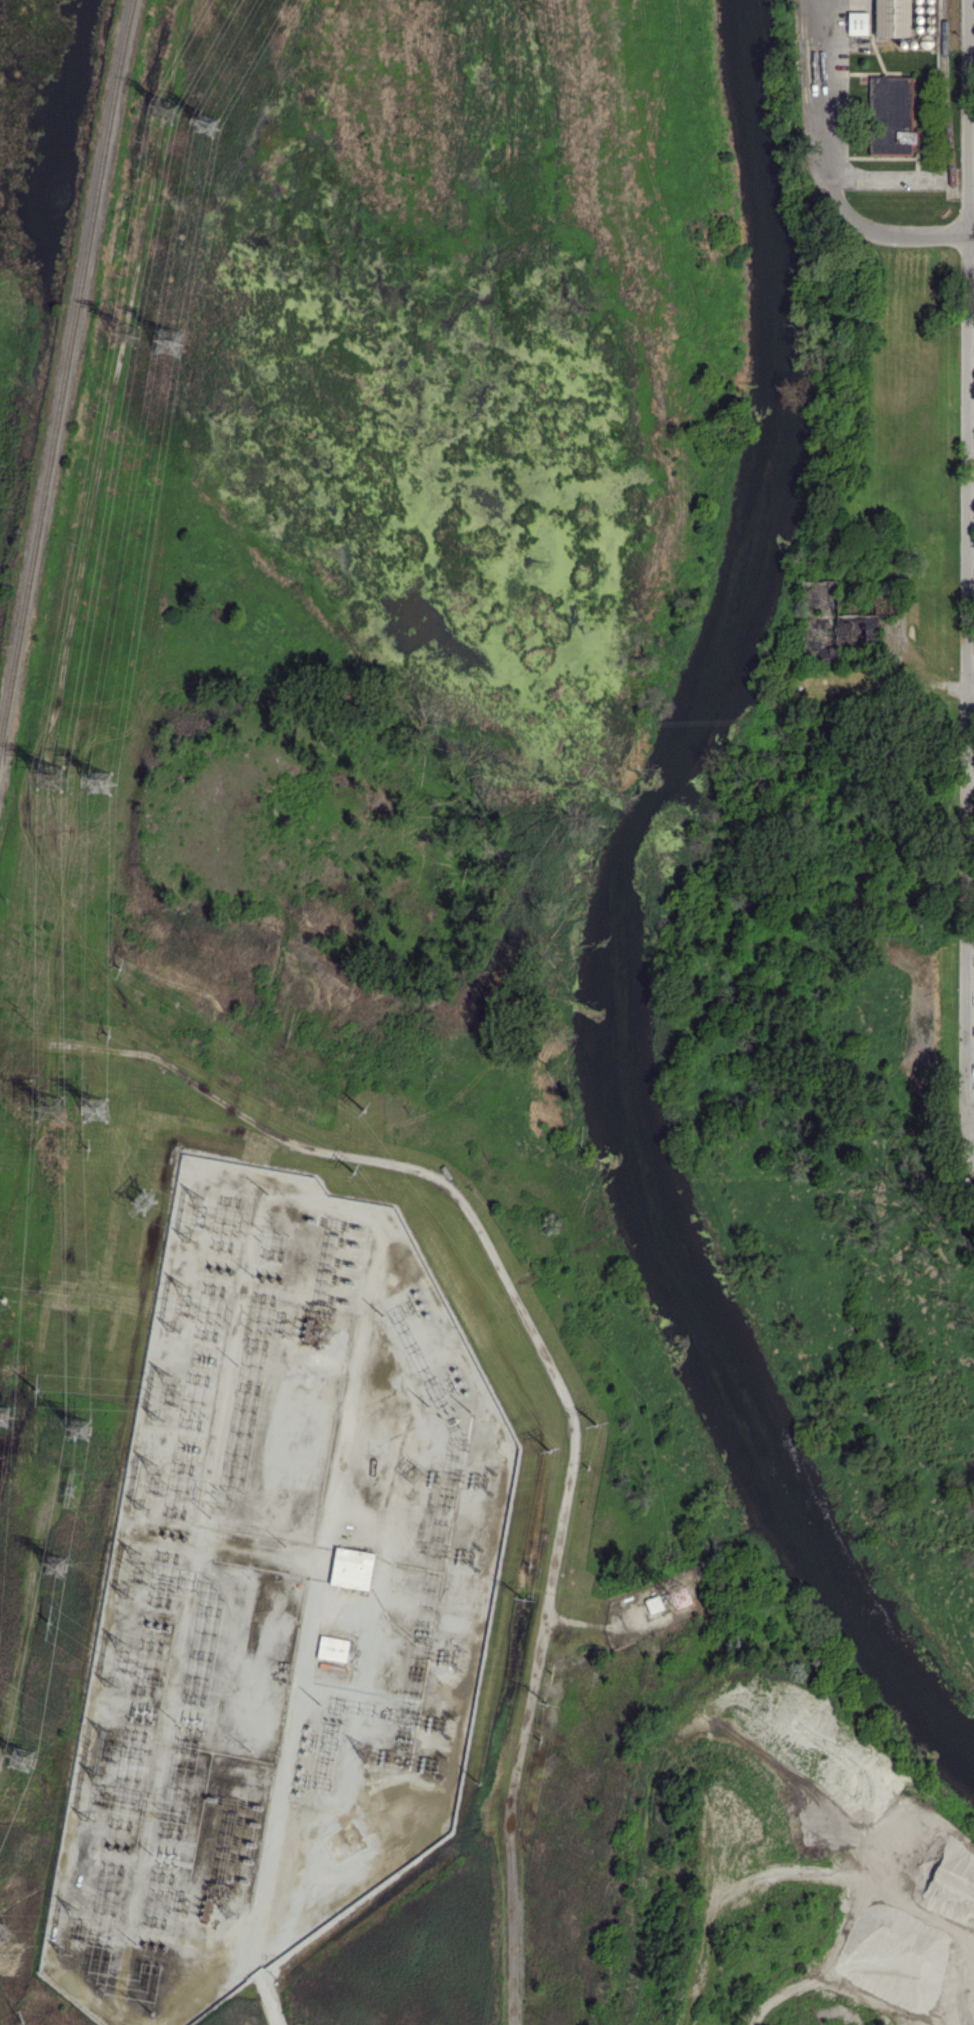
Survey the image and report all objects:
building: (891, 18)
building: (857, 22)
railway: (945, 96)
power tower: (179, 109)
building: (890, 116)
power tower: (210, 124)
road: (827, 174)
road: (885, 176)
road: (972, 234)
power tower: (137, 337)
power tower: (169, 341)
railway: (65, 372)
road: (970, 571)
building: (856, 629)
road: (972, 689)
power tower: (50, 780)
power tower: (103, 788)
river: (619, 914)
power tower: (36, 939)
power tower: (123, 970)
power tower: (33, 1022)
power tower: (111, 1037)
power tower: (52, 1108)
power tower: (366, 1113)
power tower: (95, 1115)
road: (972, 1141)
power tower: (87, 1147)
power tower: (356, 1174)
power tower: (141, 1205)
power tower: (5, 1318)
power tower: (35, 1389)
power tower: (598, 1426)
power tower: (81, 1433)
power tower: (549, 1452)
power tower: (588, 1466)
power tower: (66, 1492)
power tower: (58, 1563)
power tower: (526, 1564)
building: (351, 1568)
power tower: (524, 1598)
power substation: (279, 1599)
building: (654, 1604)
power tower: (45, 1617)
building: (332, 1649)
power tower: (548, 1676)
power tower: (547, 1705)
power tower: (537, 1739)
power tower: (22, 1761)
power tower: (480, 1781)
power tower: (2, 1928)
power tower: (22, 2020)

